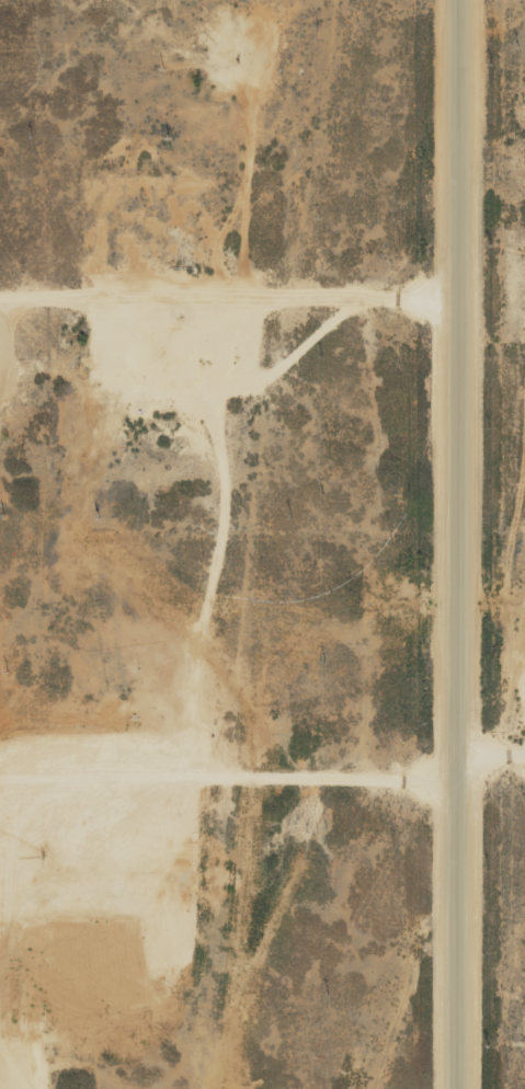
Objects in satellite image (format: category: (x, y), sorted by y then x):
road: (231, 284)
road: (492, 301)
road: (459, 544)
road: (269, 779)
road: (18, 1048)

